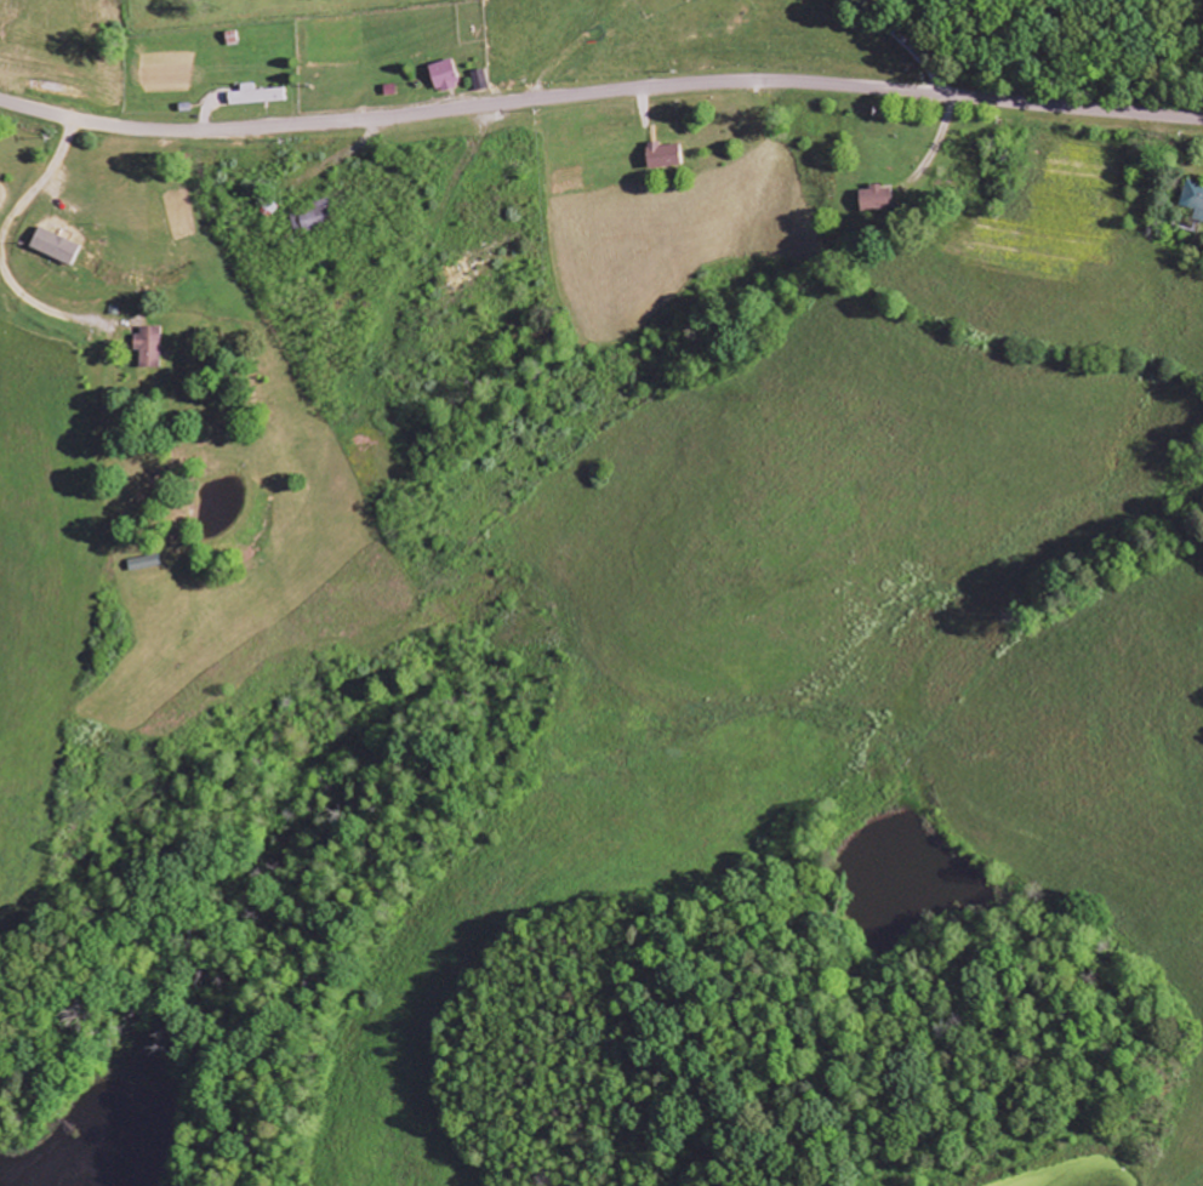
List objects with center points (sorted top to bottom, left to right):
building: (446, 75)
building: (481, 80)
road: (599, 91)
building: (257, 96)
building: (663, 155)
building: (876, 199)
building: (1193, 199)
building: (314, 218)
building: (56, 246)
building: (150, 347)
building: (147, 564)

